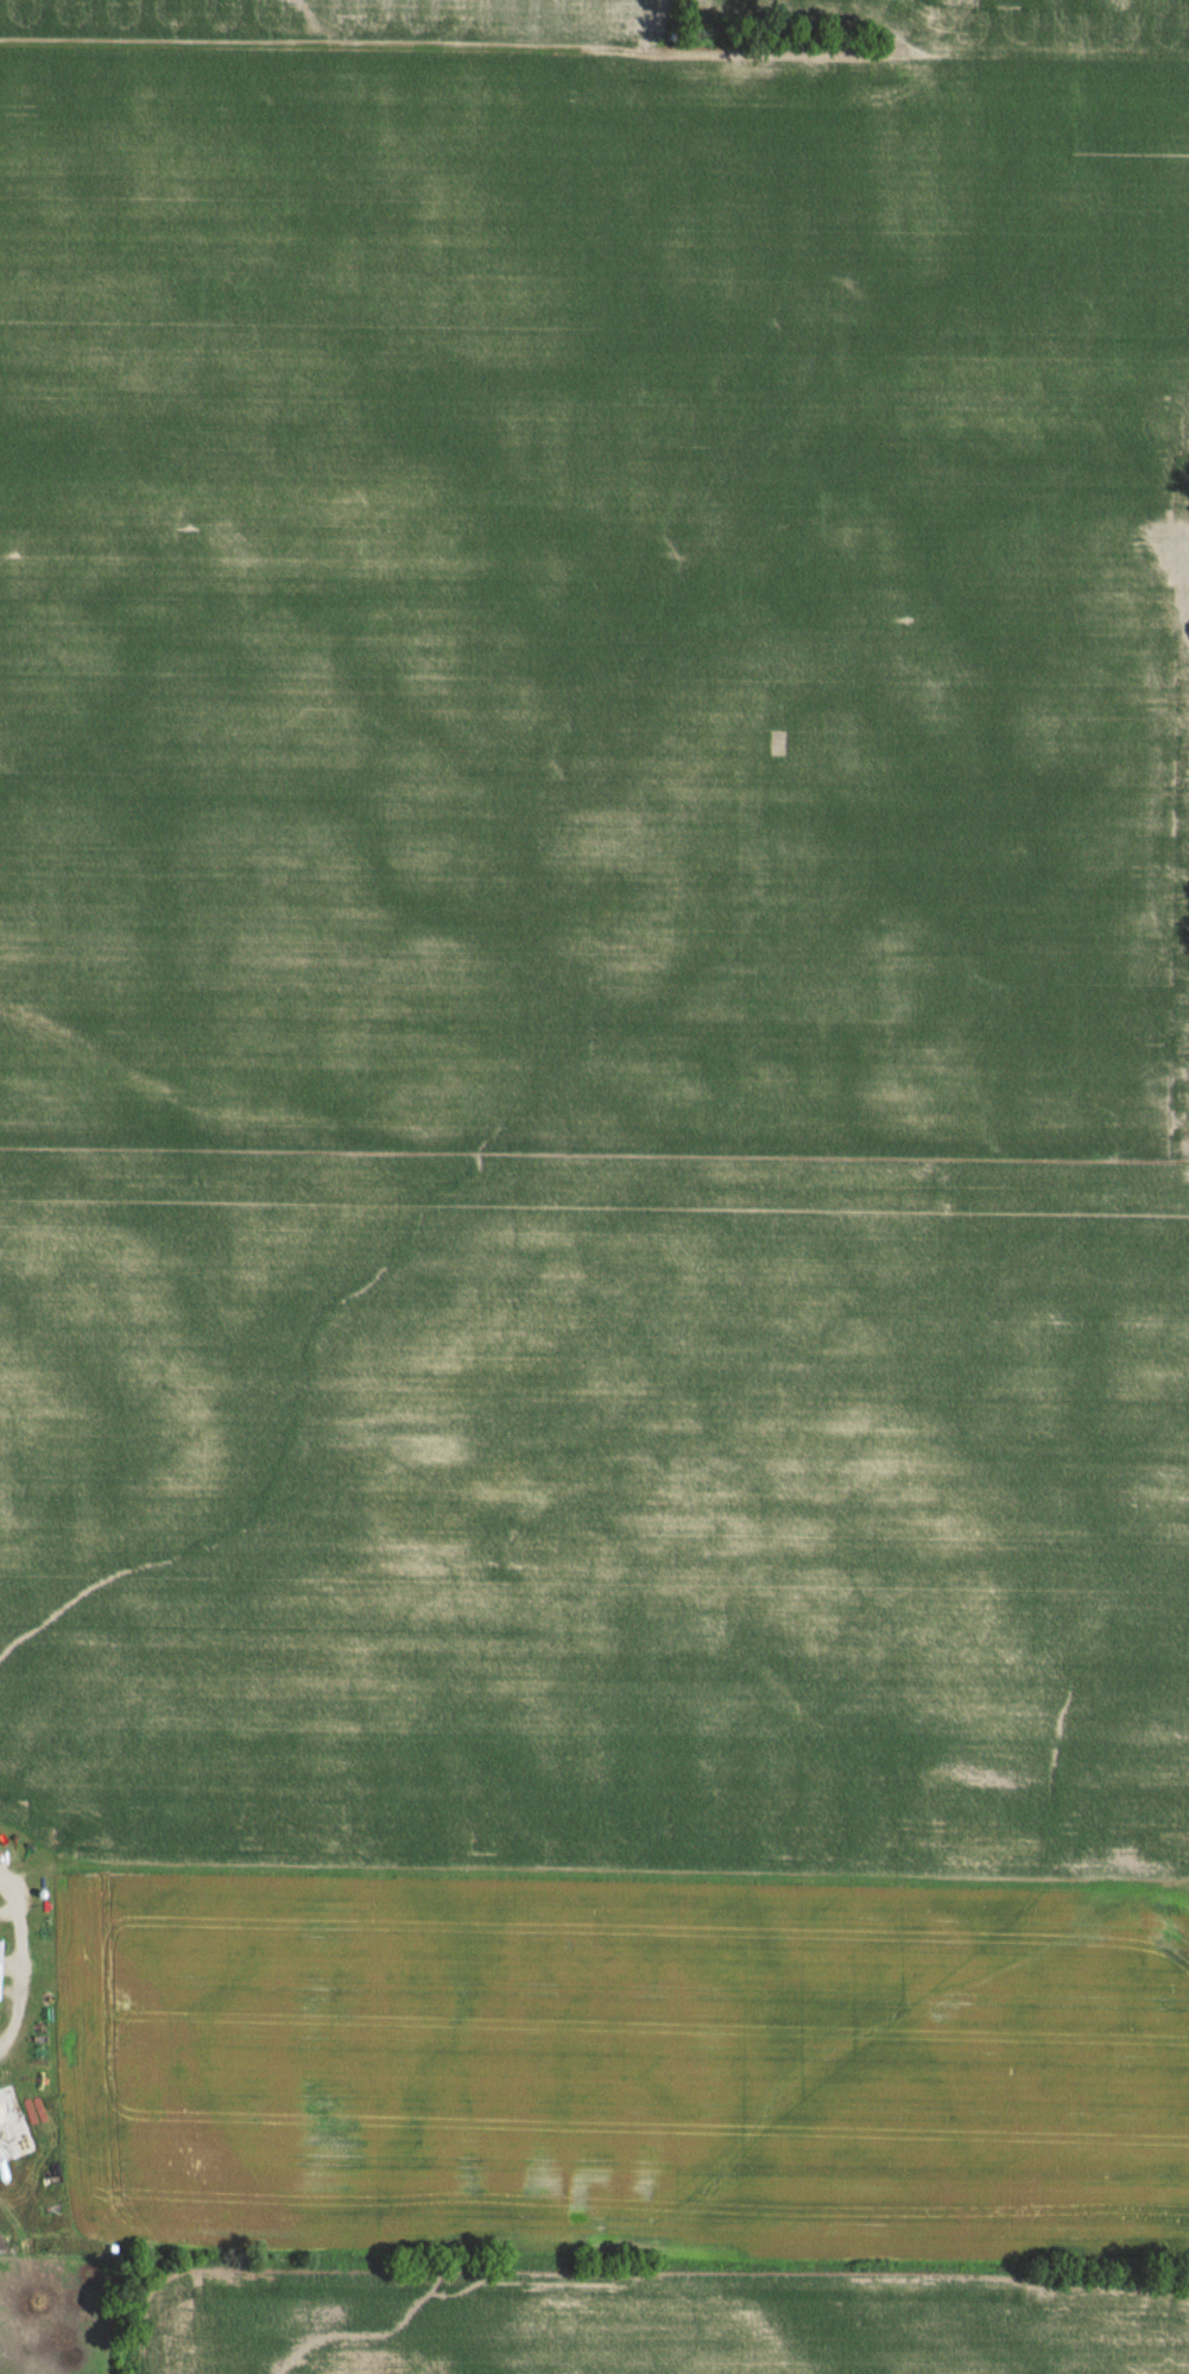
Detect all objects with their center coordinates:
road: (12, 1949)
building: (1, 1968)

